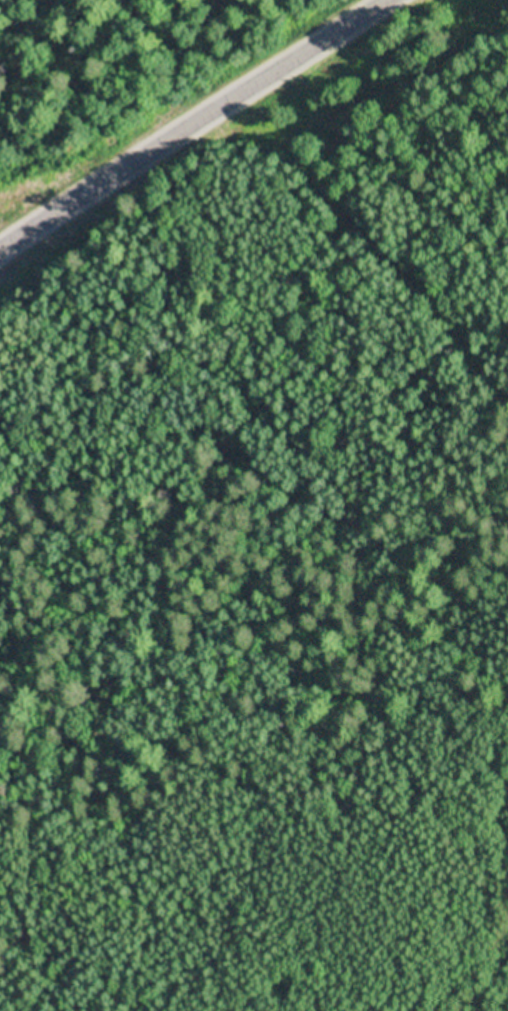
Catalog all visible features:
road: (190, 125)
road: (359, 169)

